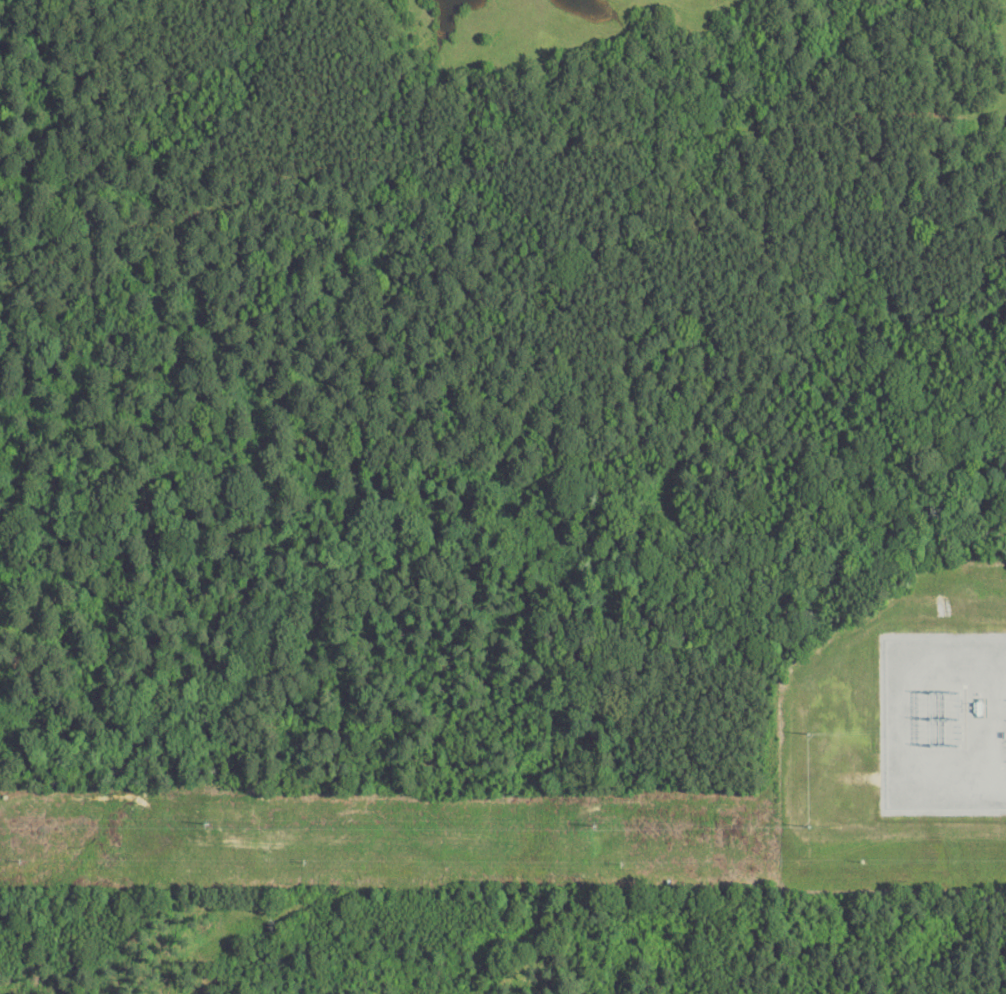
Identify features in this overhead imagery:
power substation: (942, 719)

